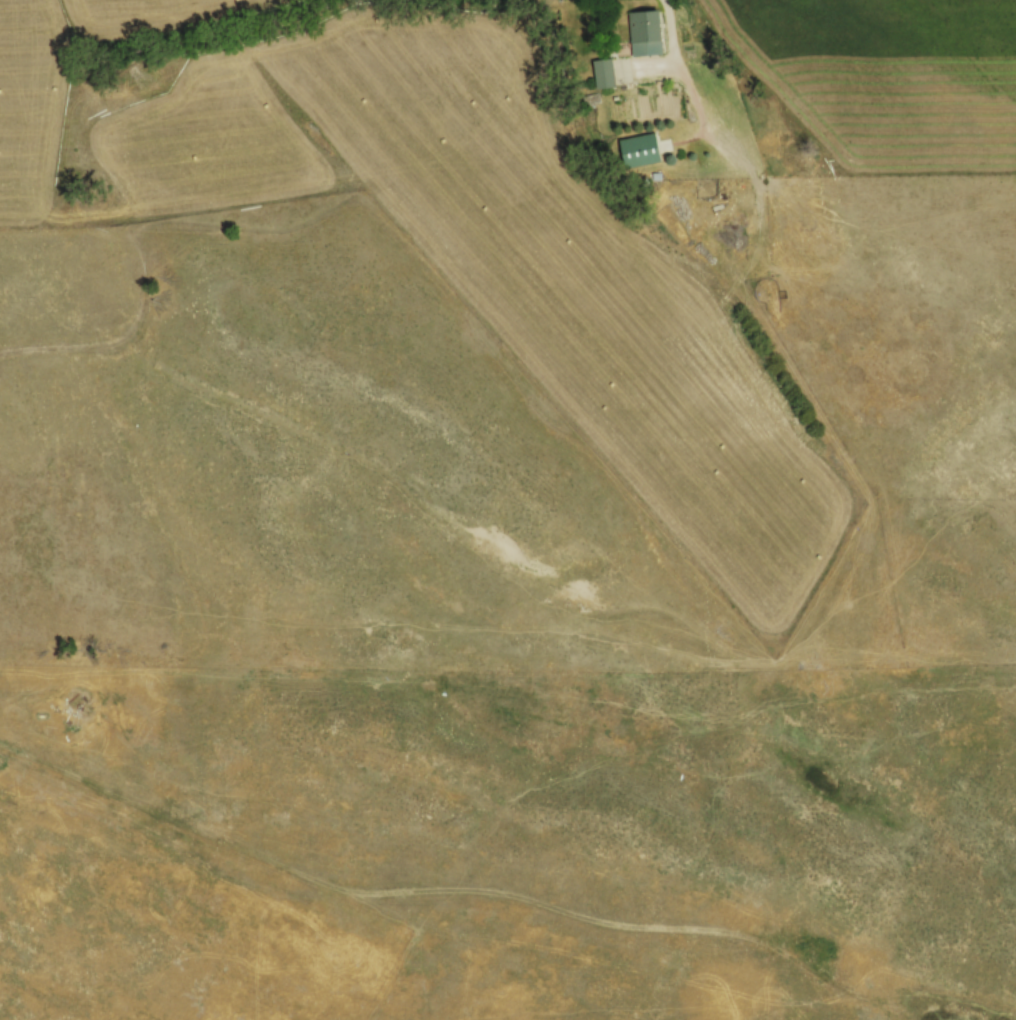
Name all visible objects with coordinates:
road: (671, 18)
building: (644, 32)
building: (602, 72)
building: (638, 149)

